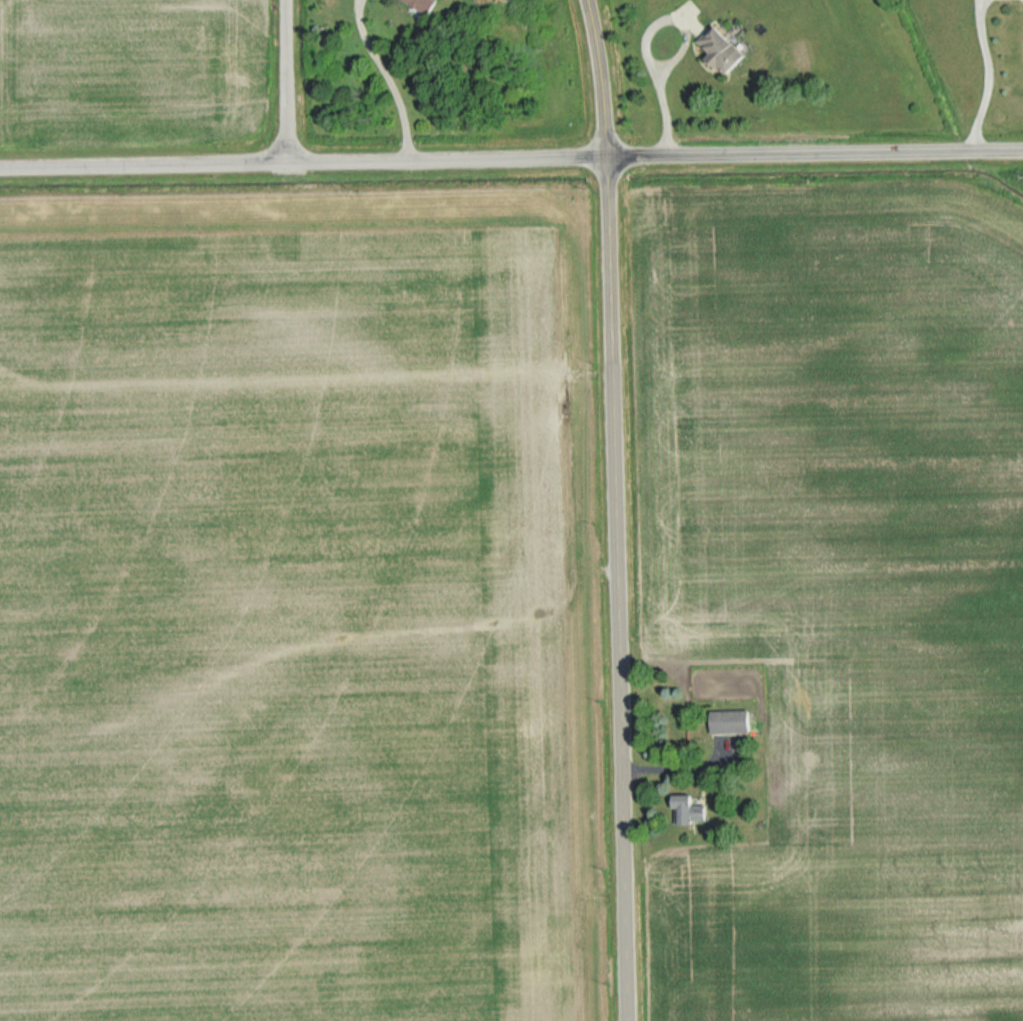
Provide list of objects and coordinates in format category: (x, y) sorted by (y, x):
building: (421, 4)
road: (647, 41)
building: (721, 49)
road: (985, 75)
road: (601, 78)
road: (389, 79)
road: (286, 81)
road: (815, 152)
road: (303, 162)
road: (619, 589)
building: (730, 721)
building: (687, 809)

